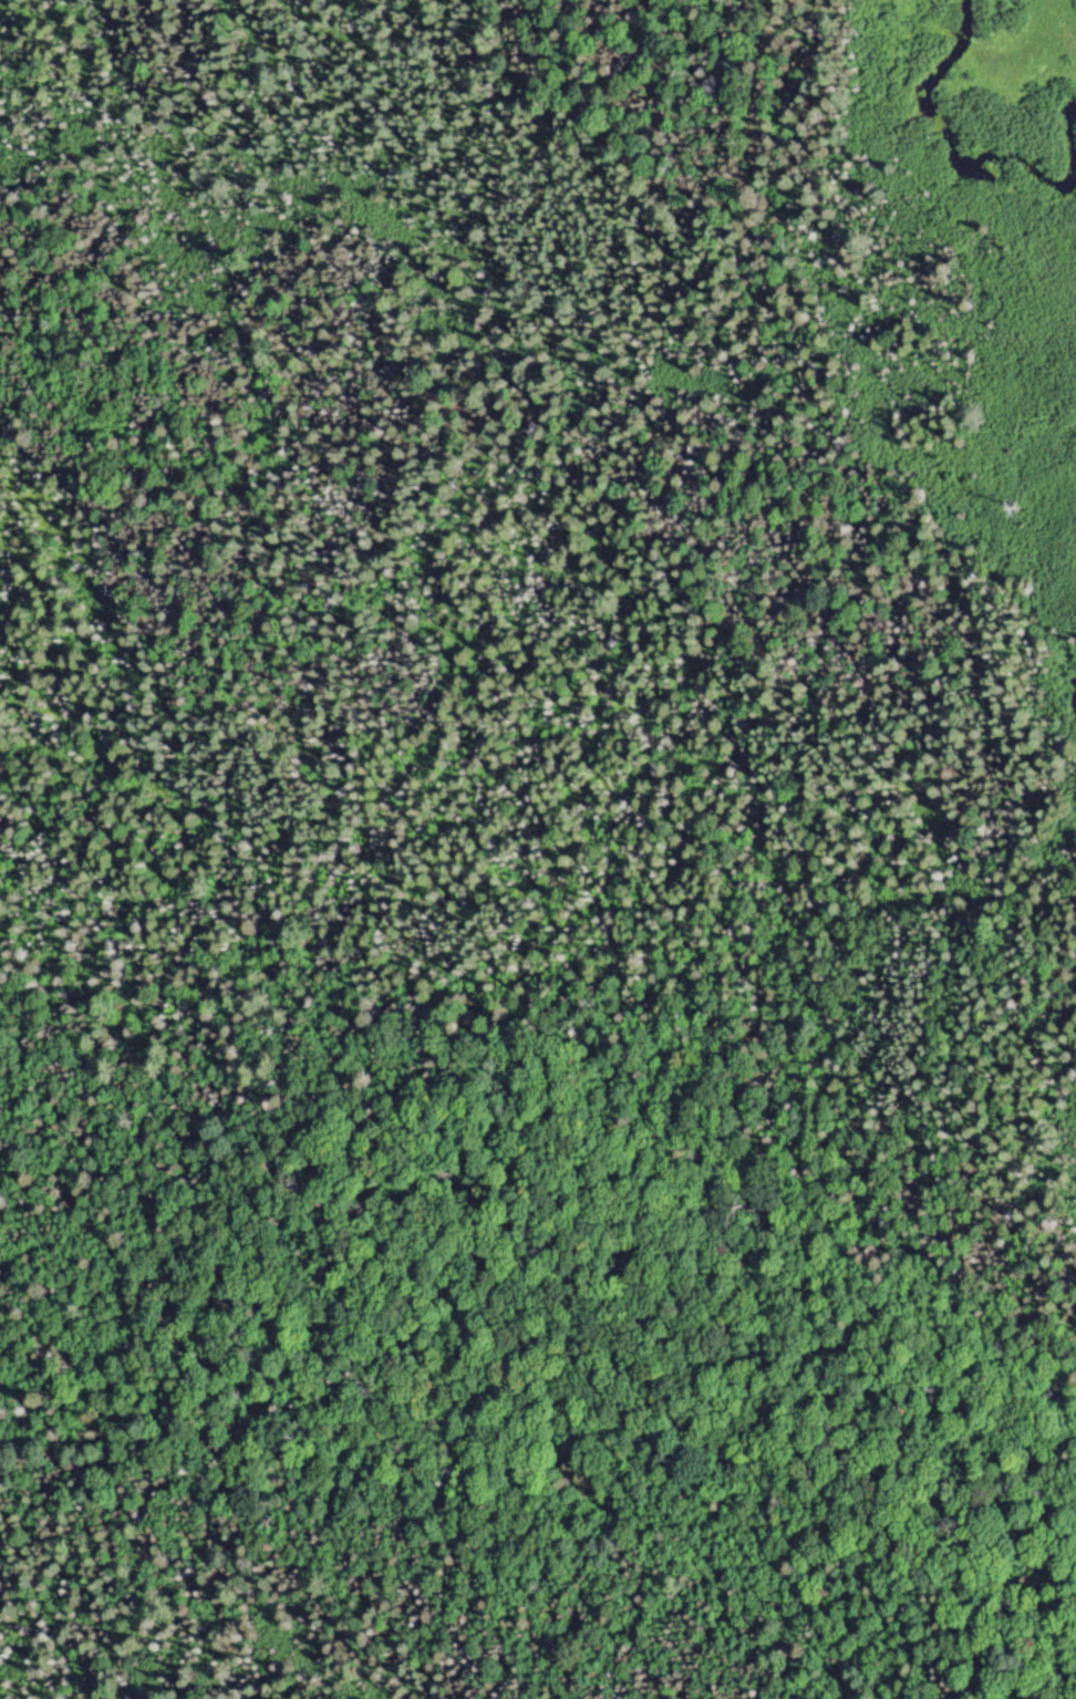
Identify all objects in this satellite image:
river: (952, 139)

